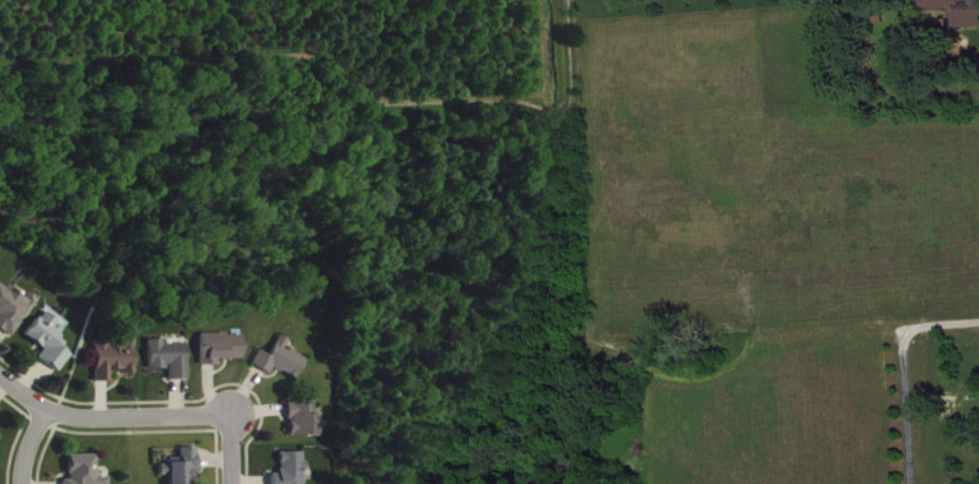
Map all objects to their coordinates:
building: (955, 15)
building: (10, 318)
road: (942, 321)
building: (50, 347)
building: (221, 356)
building: (114, 366)
building: (169, 367)
building: (281, 367)
road: (903, 403)
road: (109, 414)
building: (303, 428)
road: (30, 447)
road: (230, 451)
building: (182, 471)
building: (292, 472)
building: (83, 473)

